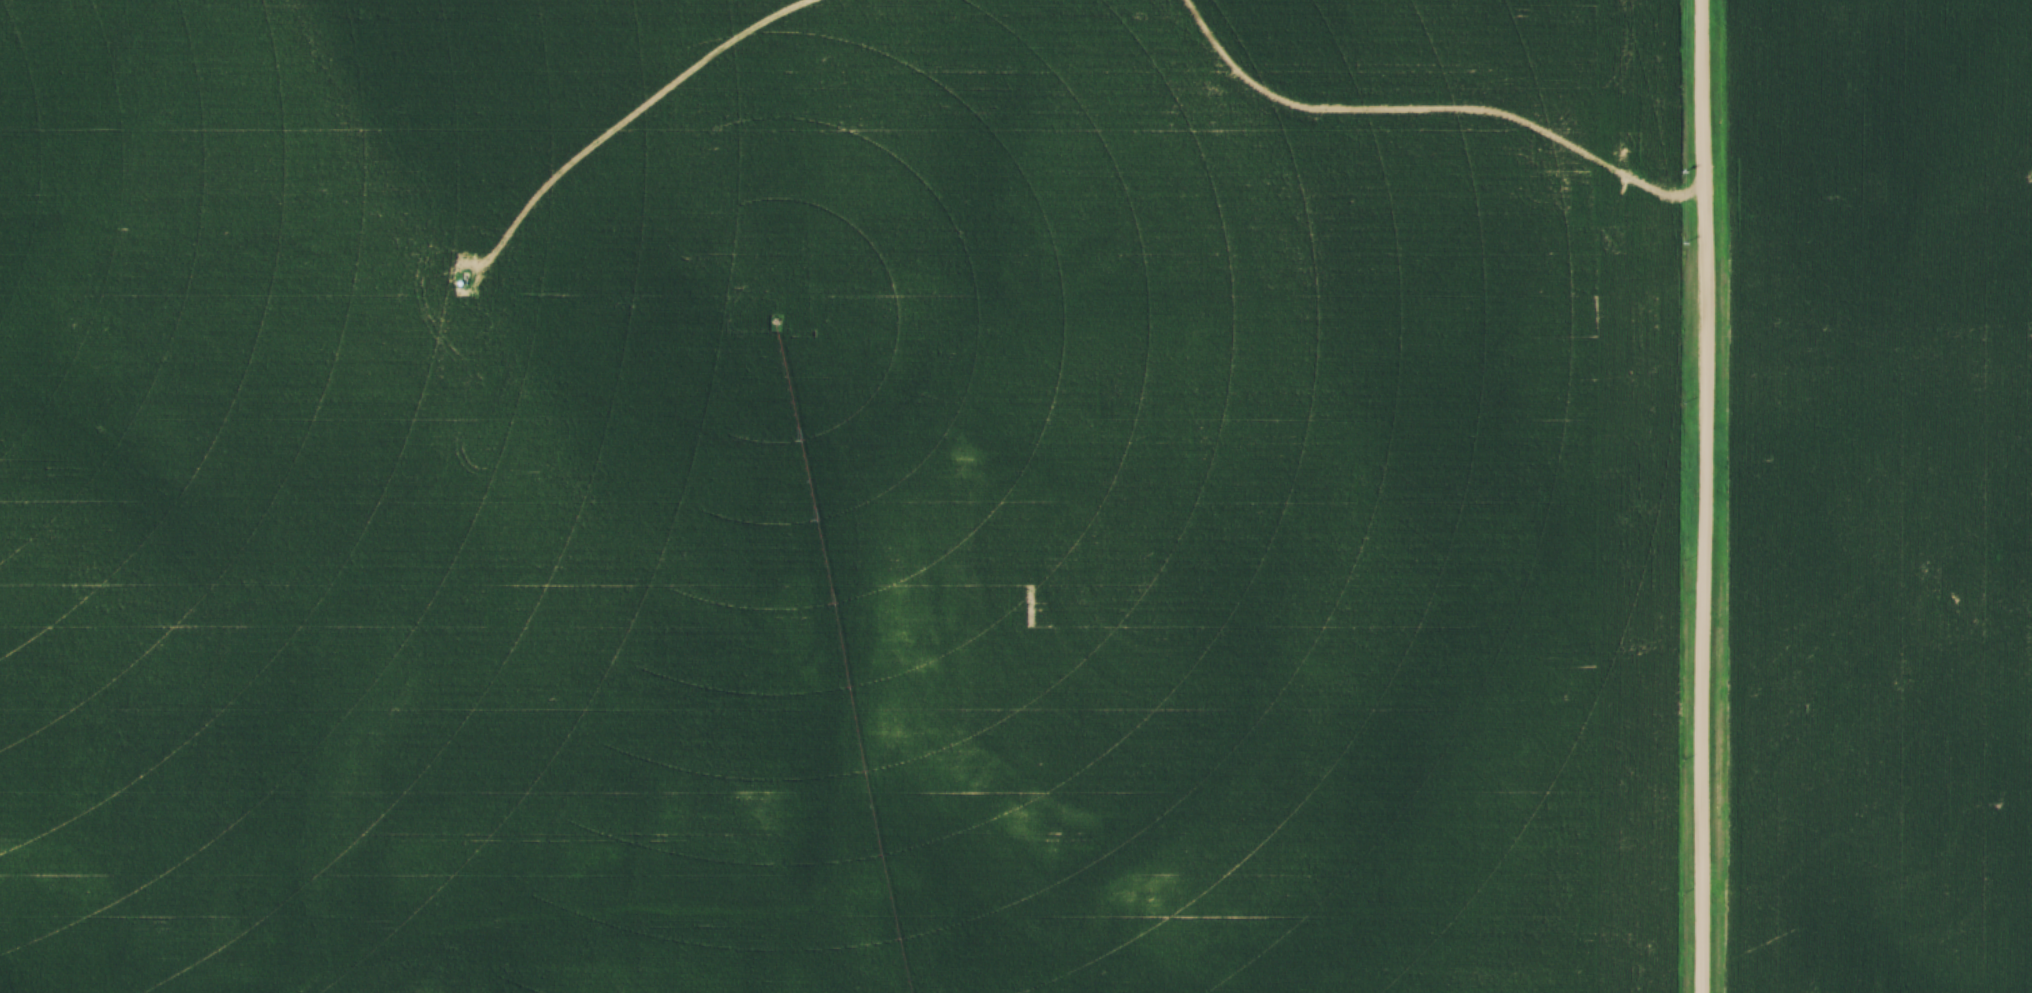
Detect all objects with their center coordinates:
road: (1703, 496)

